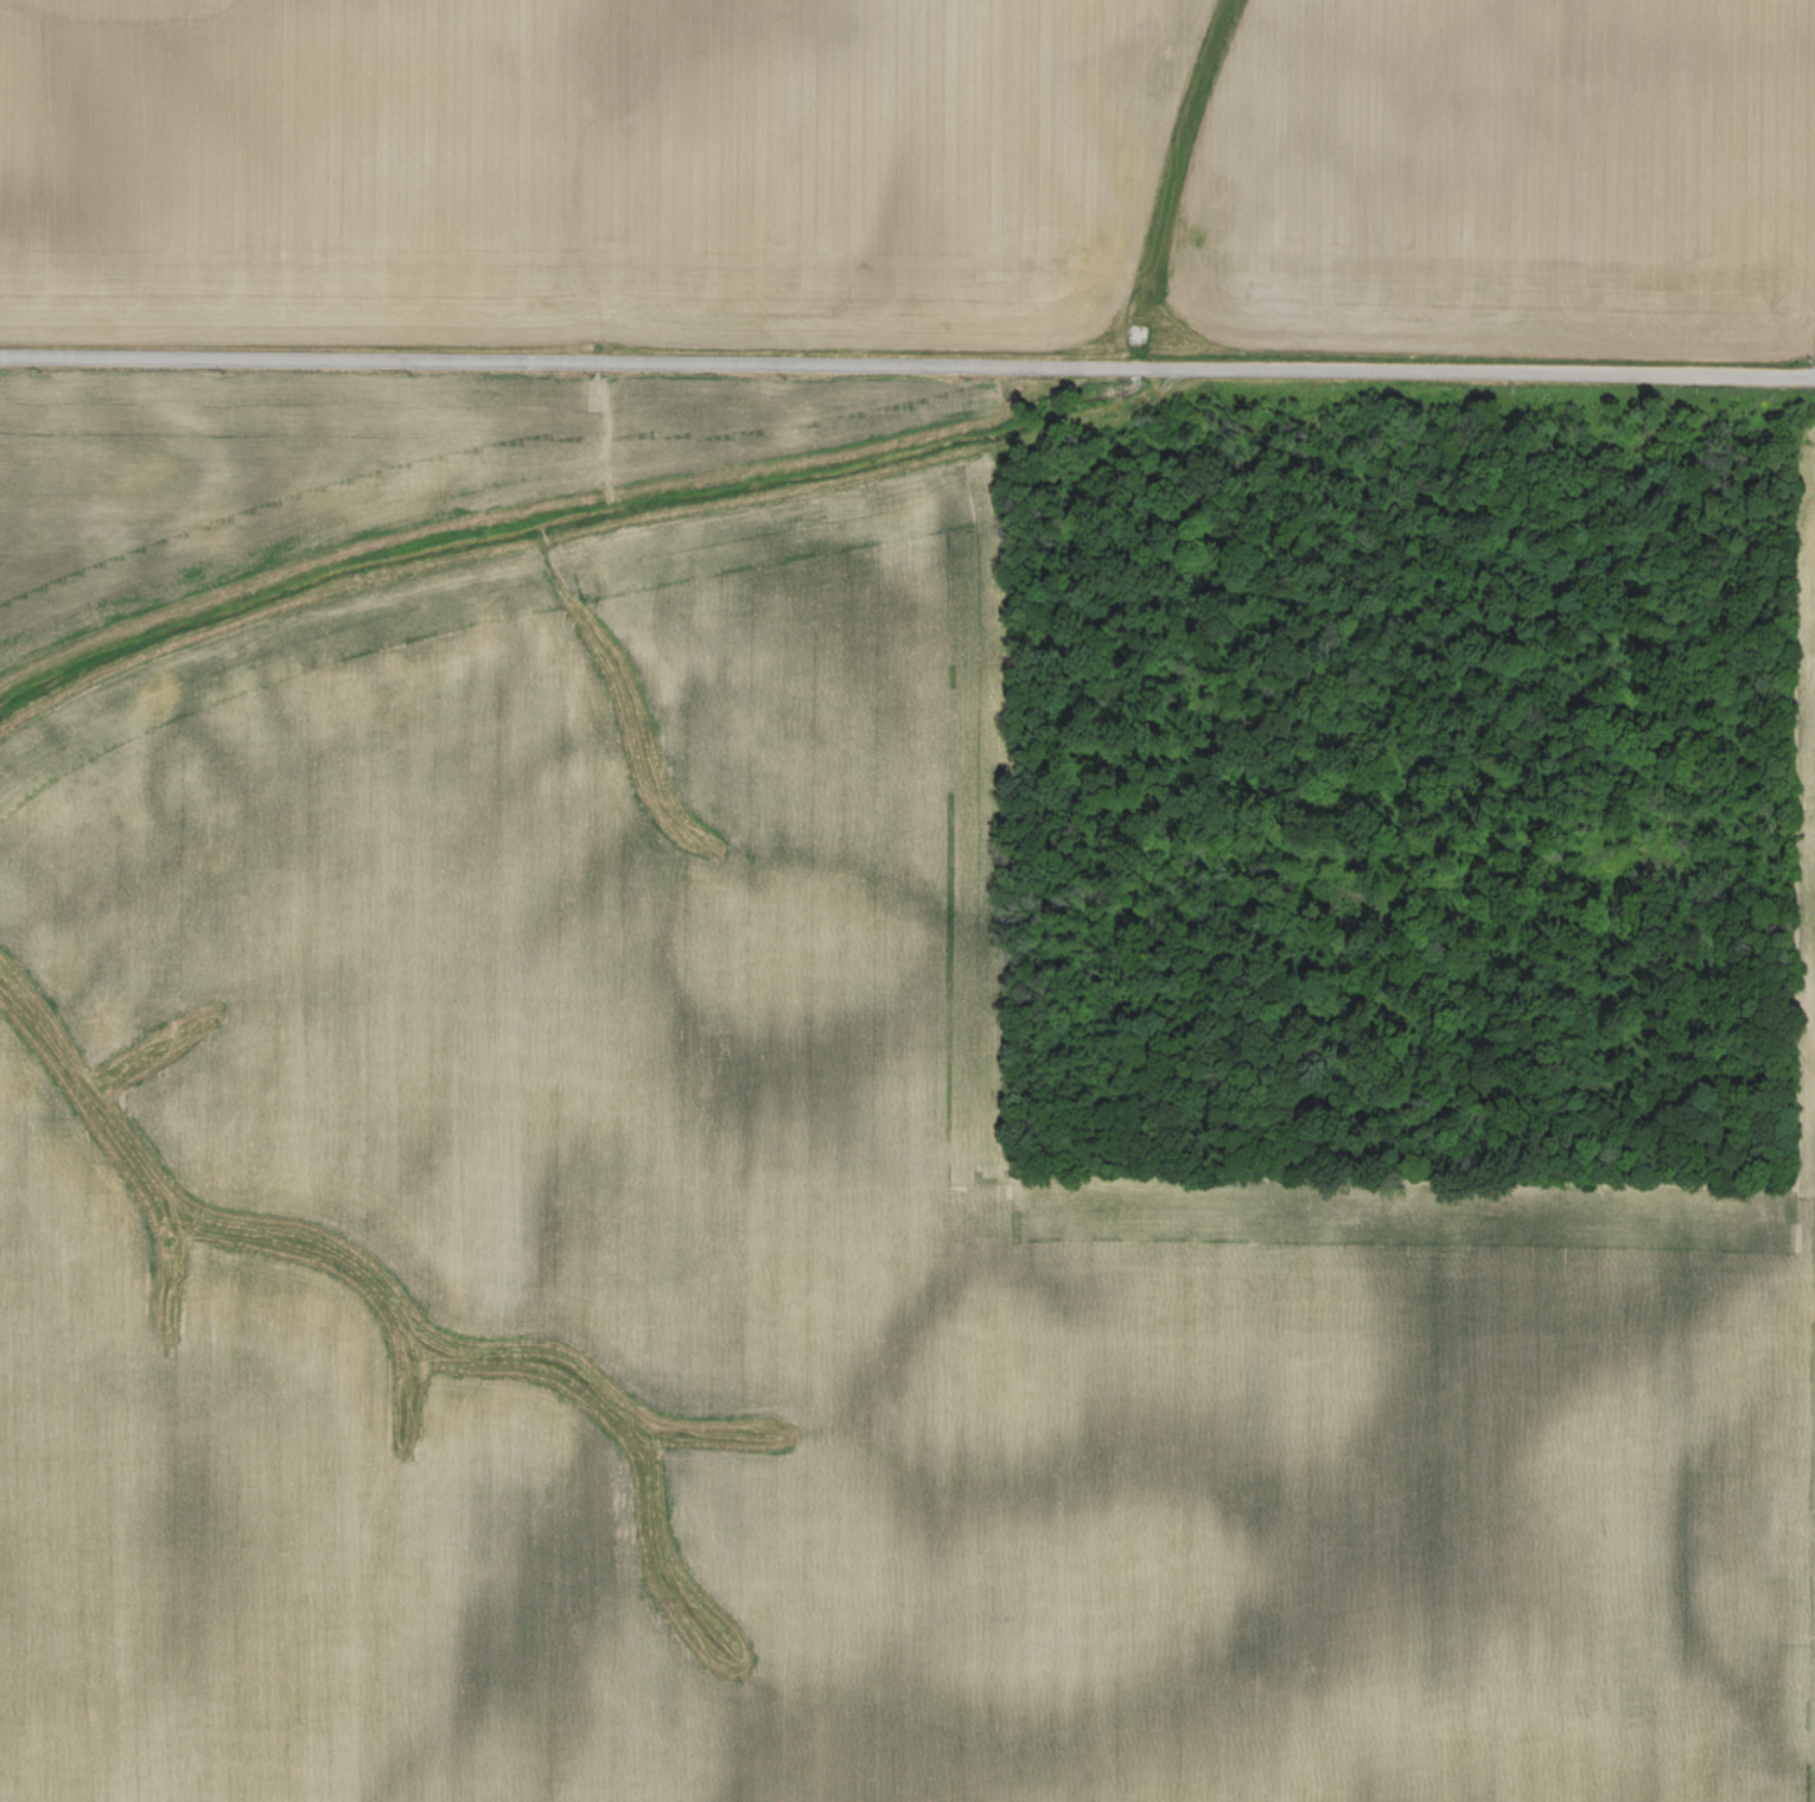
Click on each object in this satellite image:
road: (906, 365)

